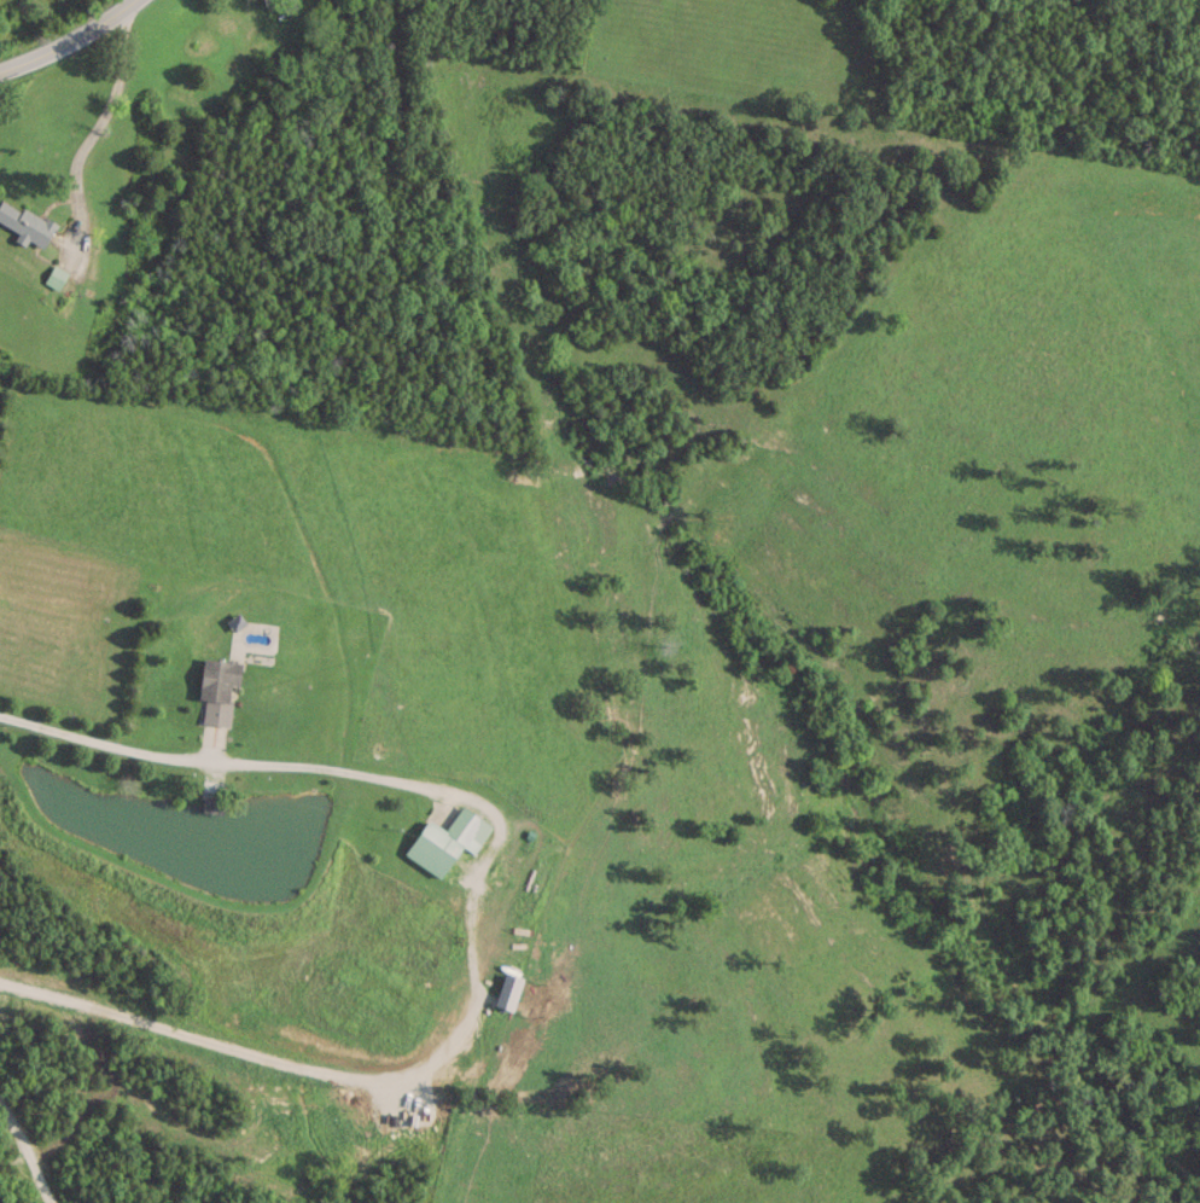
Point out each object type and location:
road: (68, 39)
road: (94, 128)
building: (25, 222)
building: (56, 277)
building: (219, 690)
building: (211, 804)
building: (447, 839)
road: (473, 916)
road: (30, 1151)

